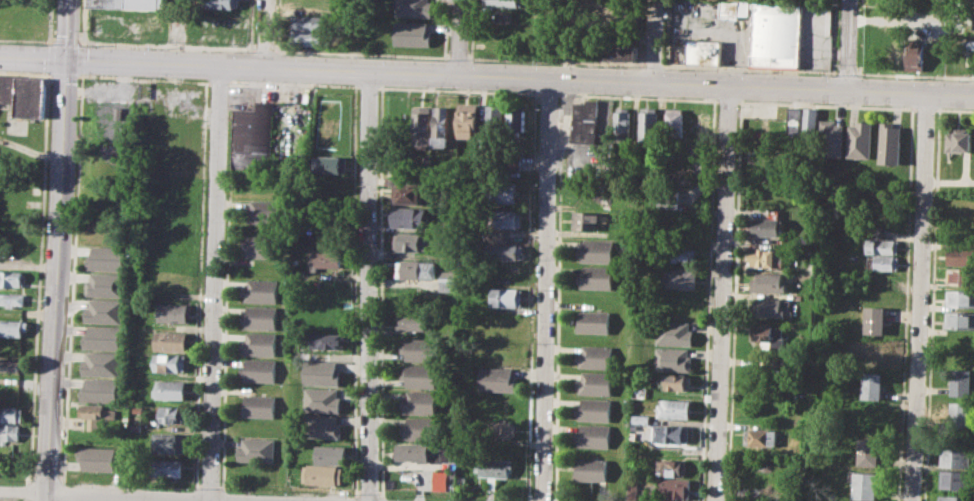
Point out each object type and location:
building: (128, 3)
building: (221, 3)
building: (504, 3)
road: (862, 3)
building: (414, 8)
building: (733, 8)
building: (505, 16)
building: (310, 22)
building: (973, 24)
road: (66, 29)
road: (266, 33)
building: (412, 34)
building: (776, 34)
road: (459, 36)
building: (309, 37)
road: (26, 40)
road: (652, 40)
road: (65, 41)
road: (848, 44)
road: (166, 45)
road: (263, 49)
building: (704, 51)
building: (622, 52)
road: (361, 53)
building: (916, 54)
road: (458, 57)
road: (555, 60)
road: (652, 64)
road: (782, 68)
road: (835, 71)
road: (846, 71)
road: (915, 74)
road: (487, 75)
building: (8, 88)
building: (30, 96)
building: (496, 118)
building: (468, 120)
building: (586, 120)
building: (517, 122)
building: (673, 122)
building: (794, 122)
building: (811, 122)
building: (622, 123)
building: (648, 124)
building: (442, 126)
building: (423, 127)
building: (255, 136)
building: (831, 138)
building: (861, 140)
building: (959, 141)
building: (890, 143)
building: (516, 160)
building: (332, 163)
building: (504, 192)
building: (410, 193)
building: (669, 199)
building: (262, 211)
building: (410, 216)
building: (507, 218)
building: (585, 219)
building: (765, 226)
building: (415, 241)
building: (262, 246)
building: (881, 246)
building: (597, 250)
building: (506, 251)
building: (684, 254)
building: (961, 255)
building: (765, 257)
building: (106, 258)
building: (327, 258)
building: (881, 262)
building: (418, 269)
building: (960, 276)
building: (597, 277)
building: (679, 277)
building: (11, 278)
road: (57, 279)
building: (448, 280)
road: (216, 282)
building: (768, 282)
building: (105, 285)
road: (371, 285)
road: (547, 289)
building: (263, 290)
road: (724, 293)
building: (507, 296)
road: (919, 297)
building: (12, 298)
building: (960, 298)
building: (769, 308)
building: (105, 311)
building: (175, 312)
building: (262, 316)
building: (873, 319)
building: (415, 320)
building: (959, 320)
building: (594, 321)
building: (14, 327)
building: (765, 332)
building: (675, 333)
building: (103, 337)
building: (330, 341)
building: (174, 342)
building: (261, 343)
building: (420, 348)
building: (876, 349)
building: (596, 356)
building: (674, 359)
building: (173, 362)
building: (102, 364)
building: (12, 365)
building: (261, 370)
building: (323, 372)
building: (421, 375)
building: (498, 380)
building: (961, 381)
building: (677, 382)
building: (596, 383)
building: (871, 386)
building: (172, 389)
building: (101, 390)
building: (323, 400)
building: (422, 403)
building: (261, 405)
building: (674, 409)
building: (595, 410)
building: (99, 411)
building: (12, 414)
building: (174, 414)
building: (960, 416)
building: (323, 426)
building: (421, 428)
building: (498, 430)
building: (10, 433)
building: (674, 434)
building: (594, 435)
building: (762, 437)
building: (172, 444)
building: (258, 450)
building: (415, 452)
building: (868, 452)
building: (331, 454)
building: (99, 458)
building: (957, 458)
building: (170, 467)
building: (494, 467)
building: (672, 467)
building: (593, 469)
building: (325, 475)
building: (954, 479)
building: (441, 480)
building: (461, 481)
building: (865, 486)
building: (676, 488)
building: (634, 489)
road: (140, 495)
building: (952, 498)

